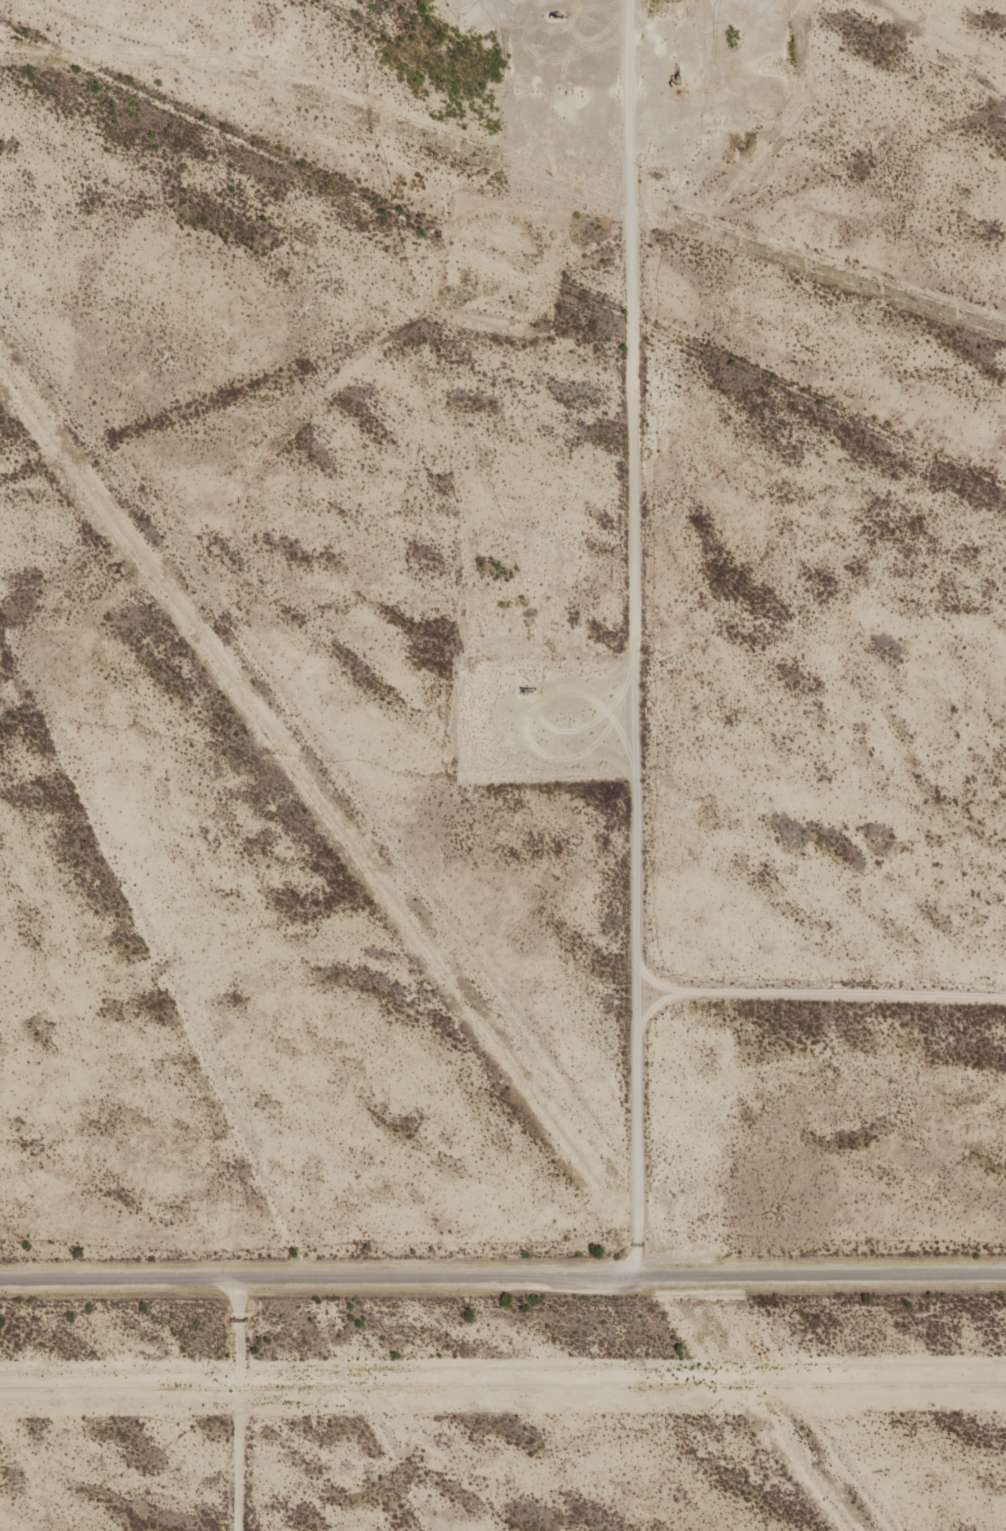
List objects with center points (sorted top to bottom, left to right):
road: (620, 626)
road: (502, 1254)
road: (238, 1394)

